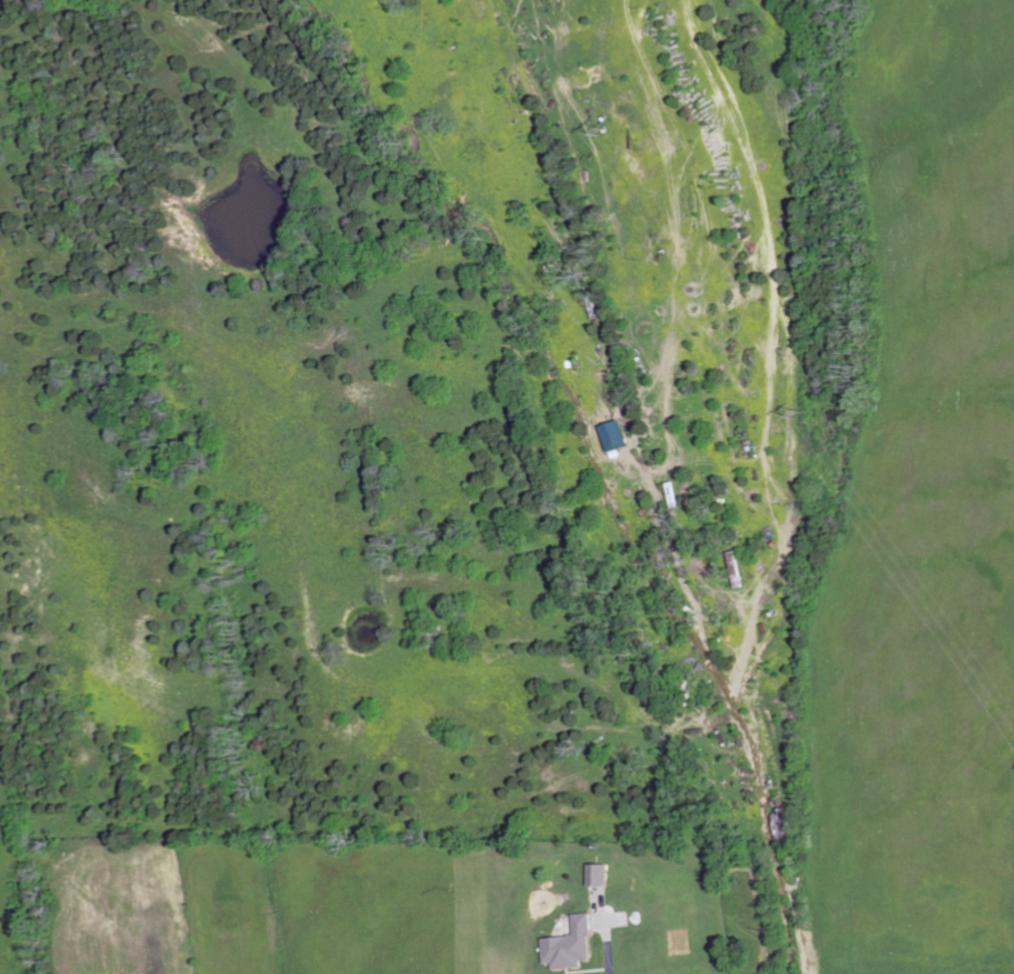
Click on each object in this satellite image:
building: (617, 436)
building: (599, 876)
road: (785, 919)
road: (606, 944)
building: (571, 946)

